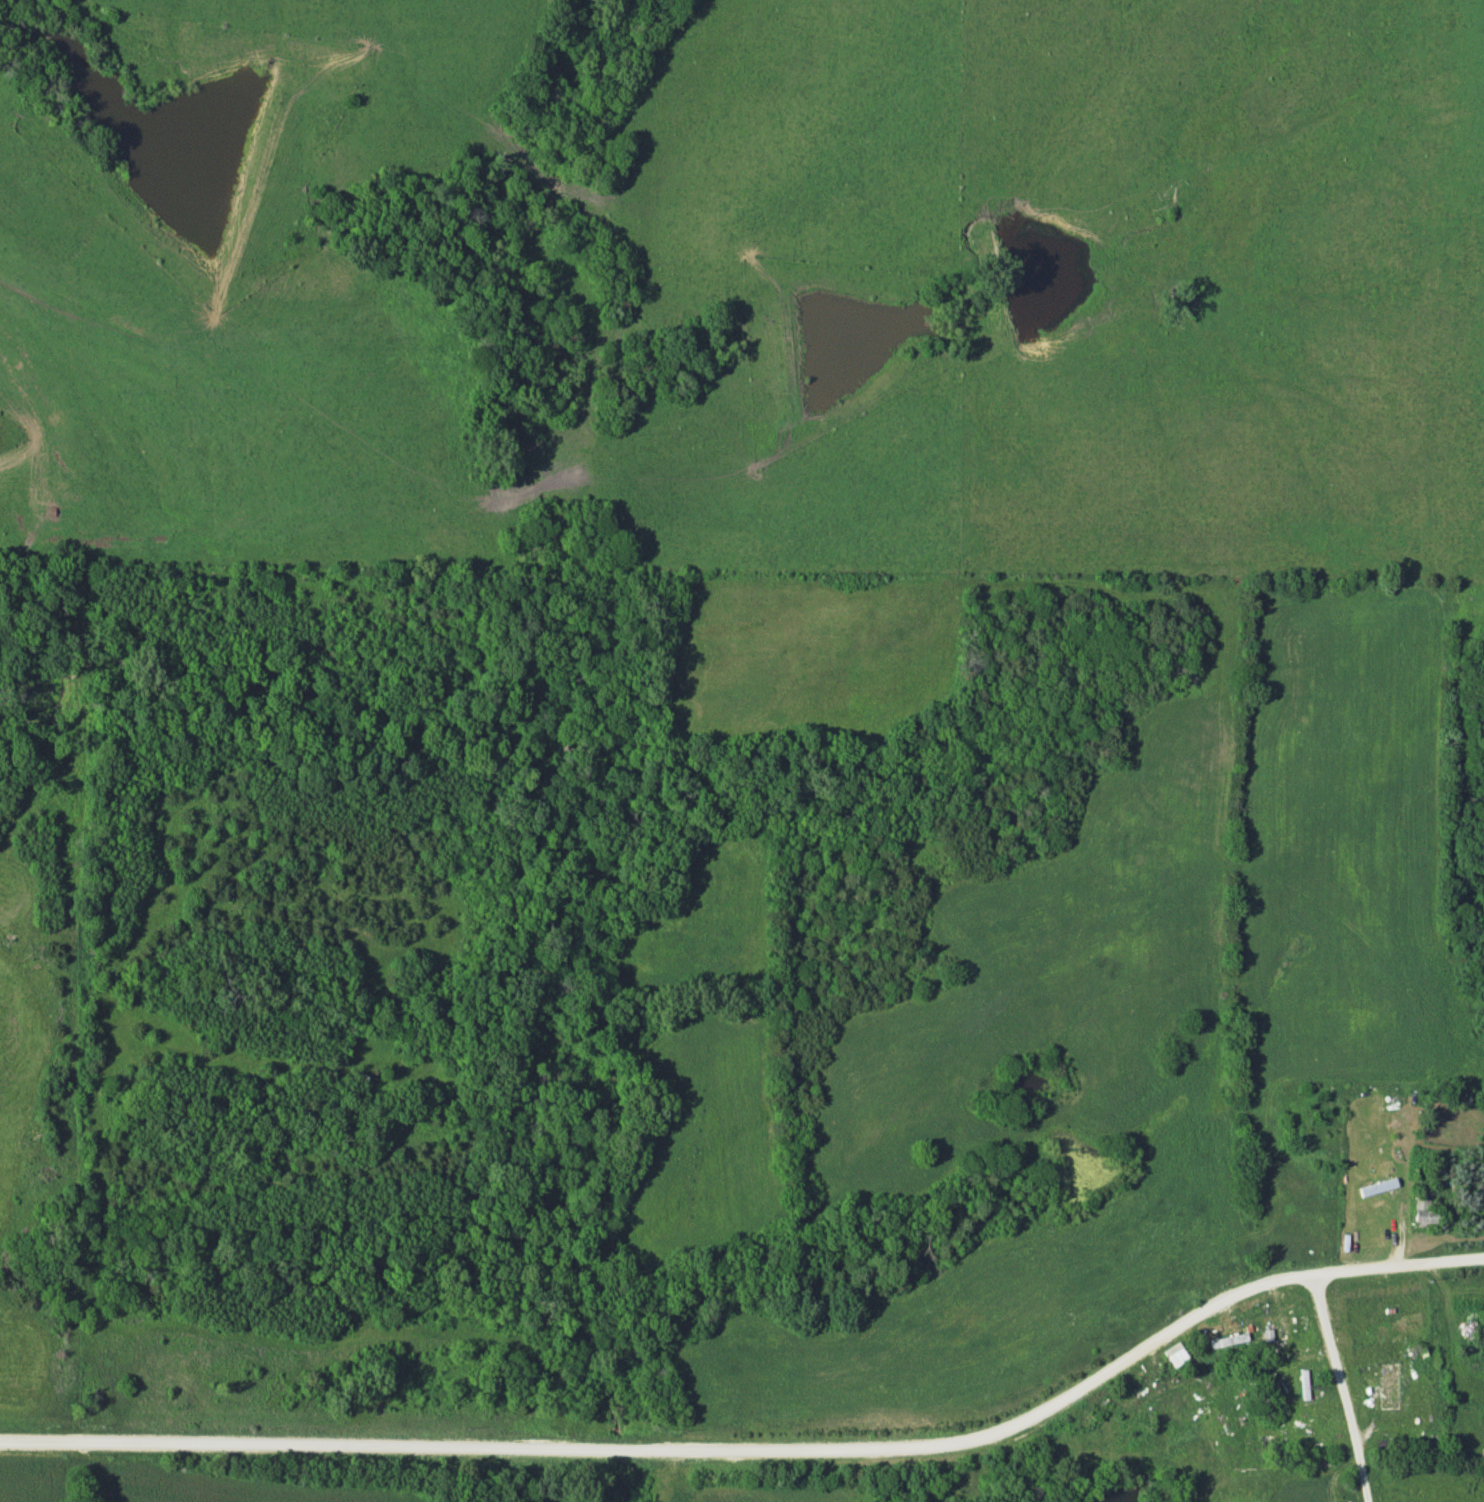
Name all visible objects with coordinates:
building: (1421, 1037)
building: (1427, 1210)
building: (1358, 1215)
road: (1396, 1267)
building: (1230, 1339)
building: (1390, 1385)
road: (1344, 1388)
road: (674, 1452)

